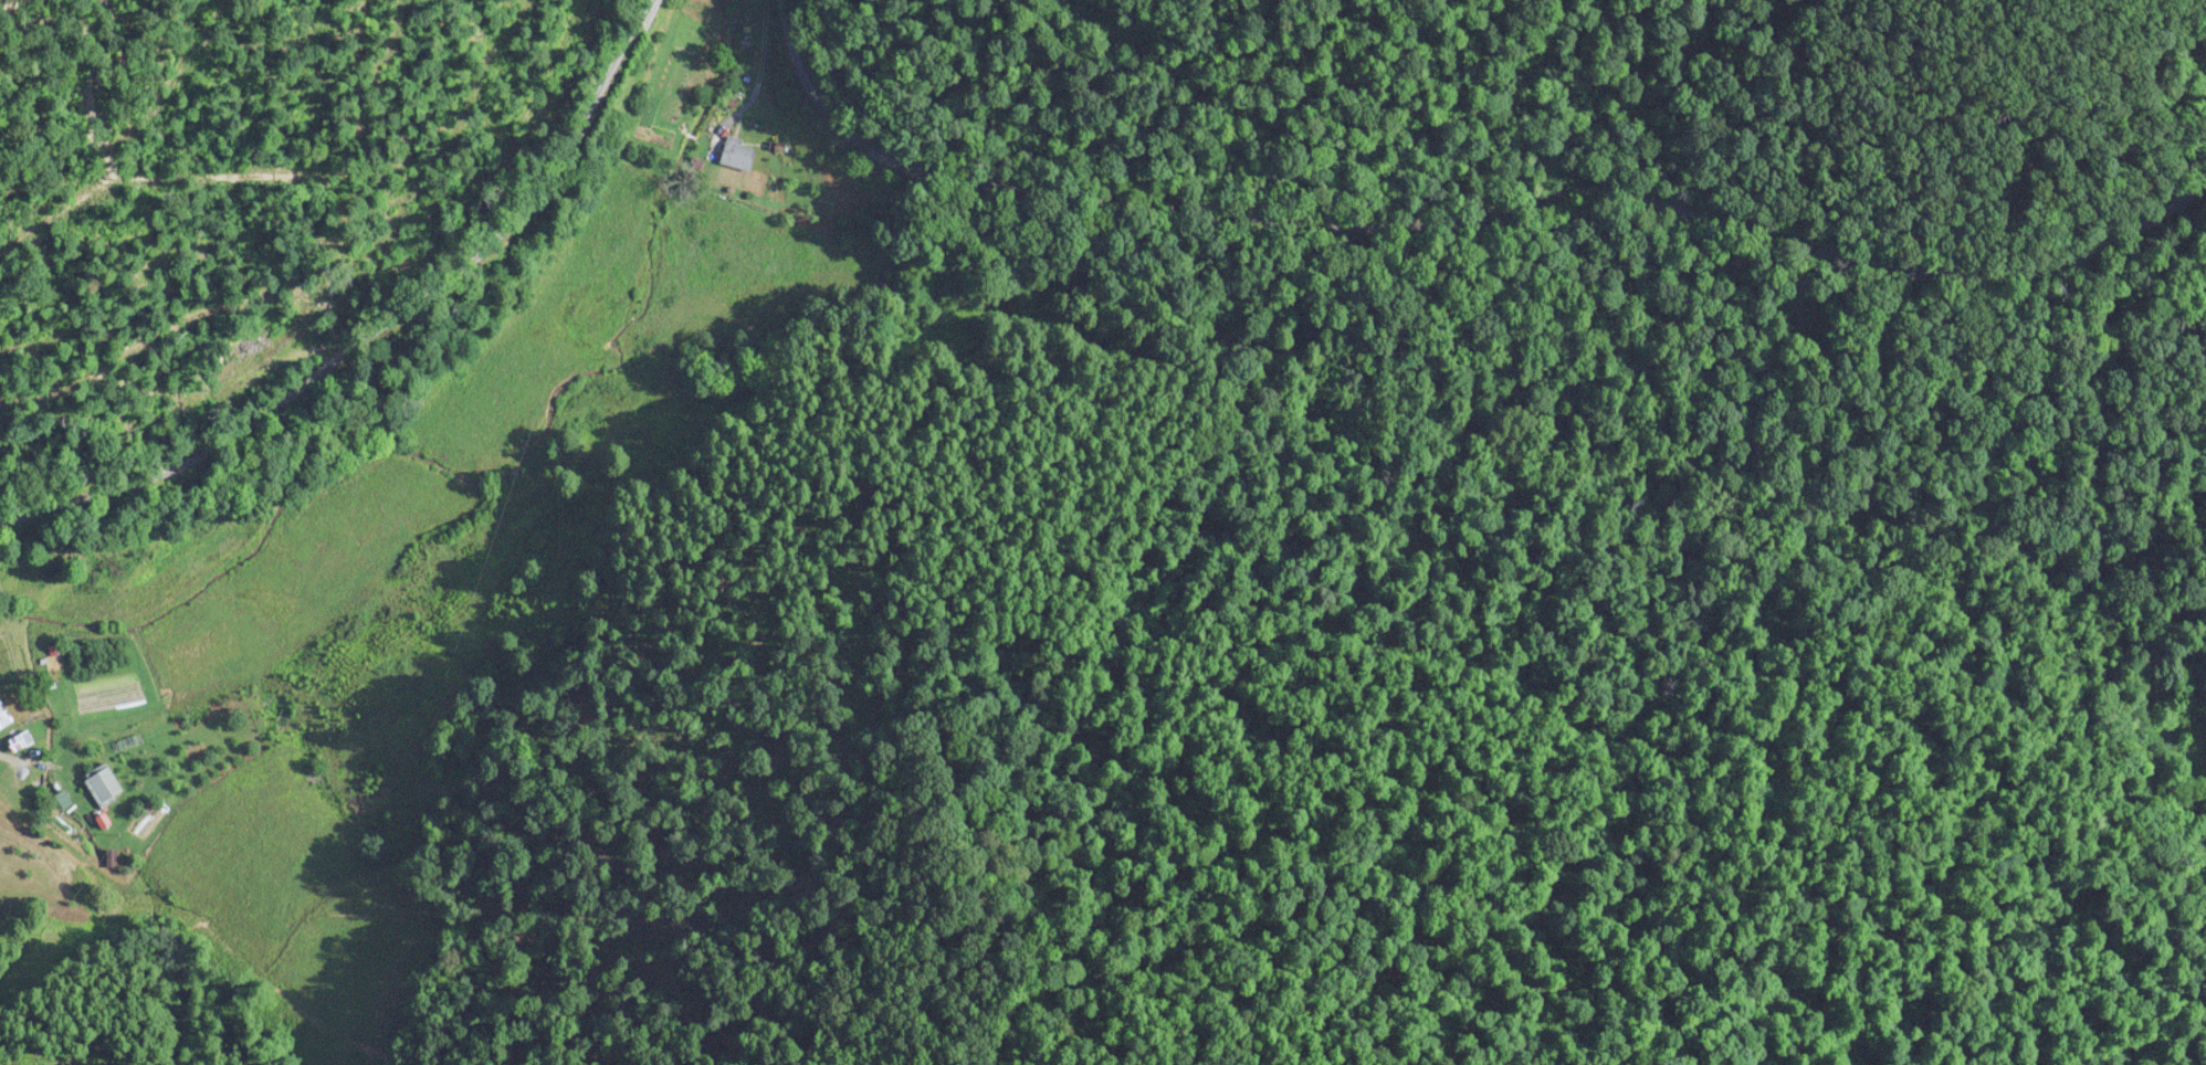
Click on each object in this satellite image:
building: (735, 151)
road: (1468, 156)
road: (315, 253)
building: (99, 782)

